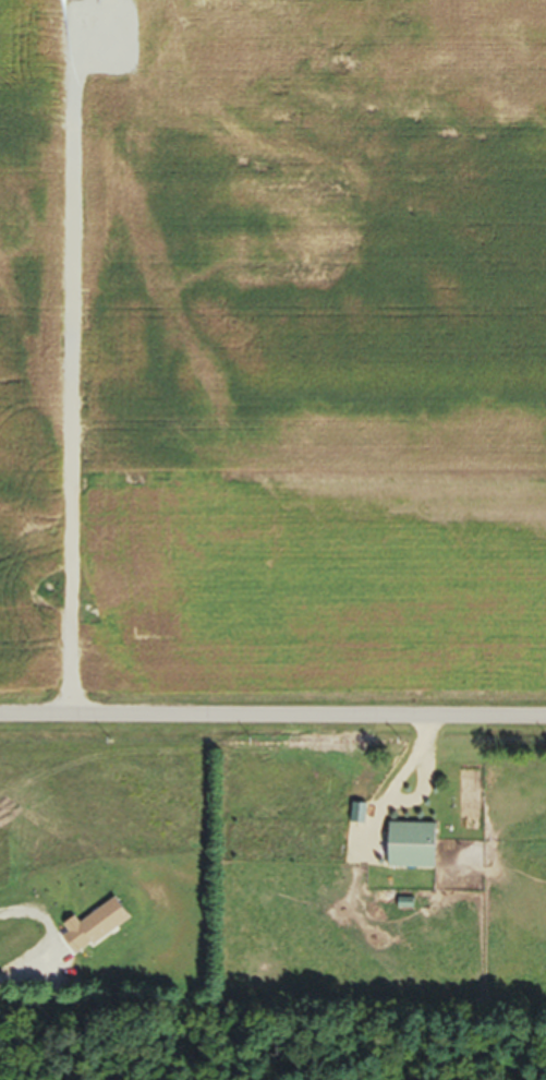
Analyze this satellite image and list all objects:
building: (148, 48)
road: (74, 369)
road: (272, 716)
building: (403, 852)

